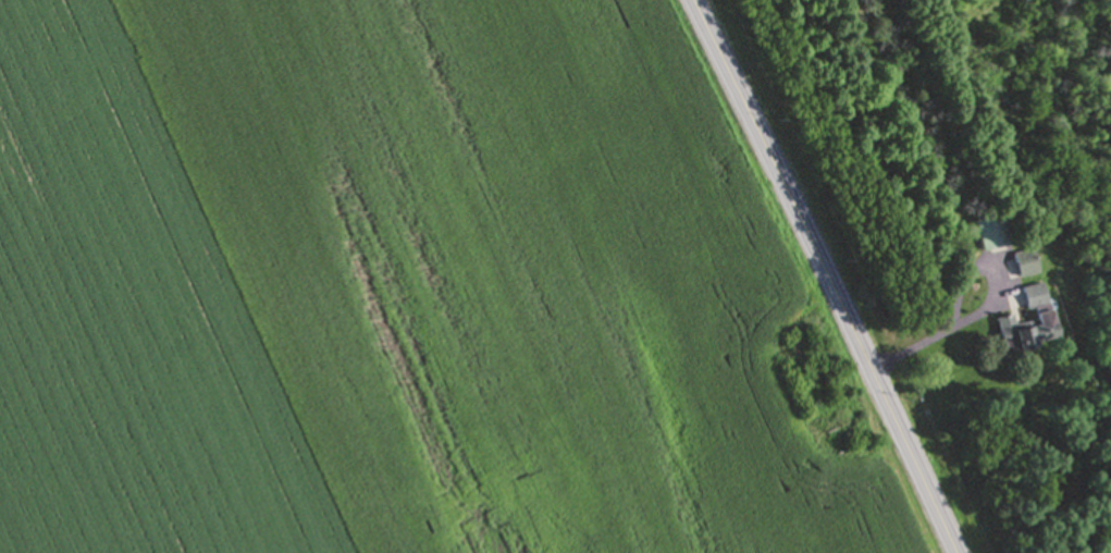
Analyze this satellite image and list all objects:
building: (990, 233)
building: (1020, 266)
road: (828, 274)
building: (1027, 322)
road: (927, 349)

